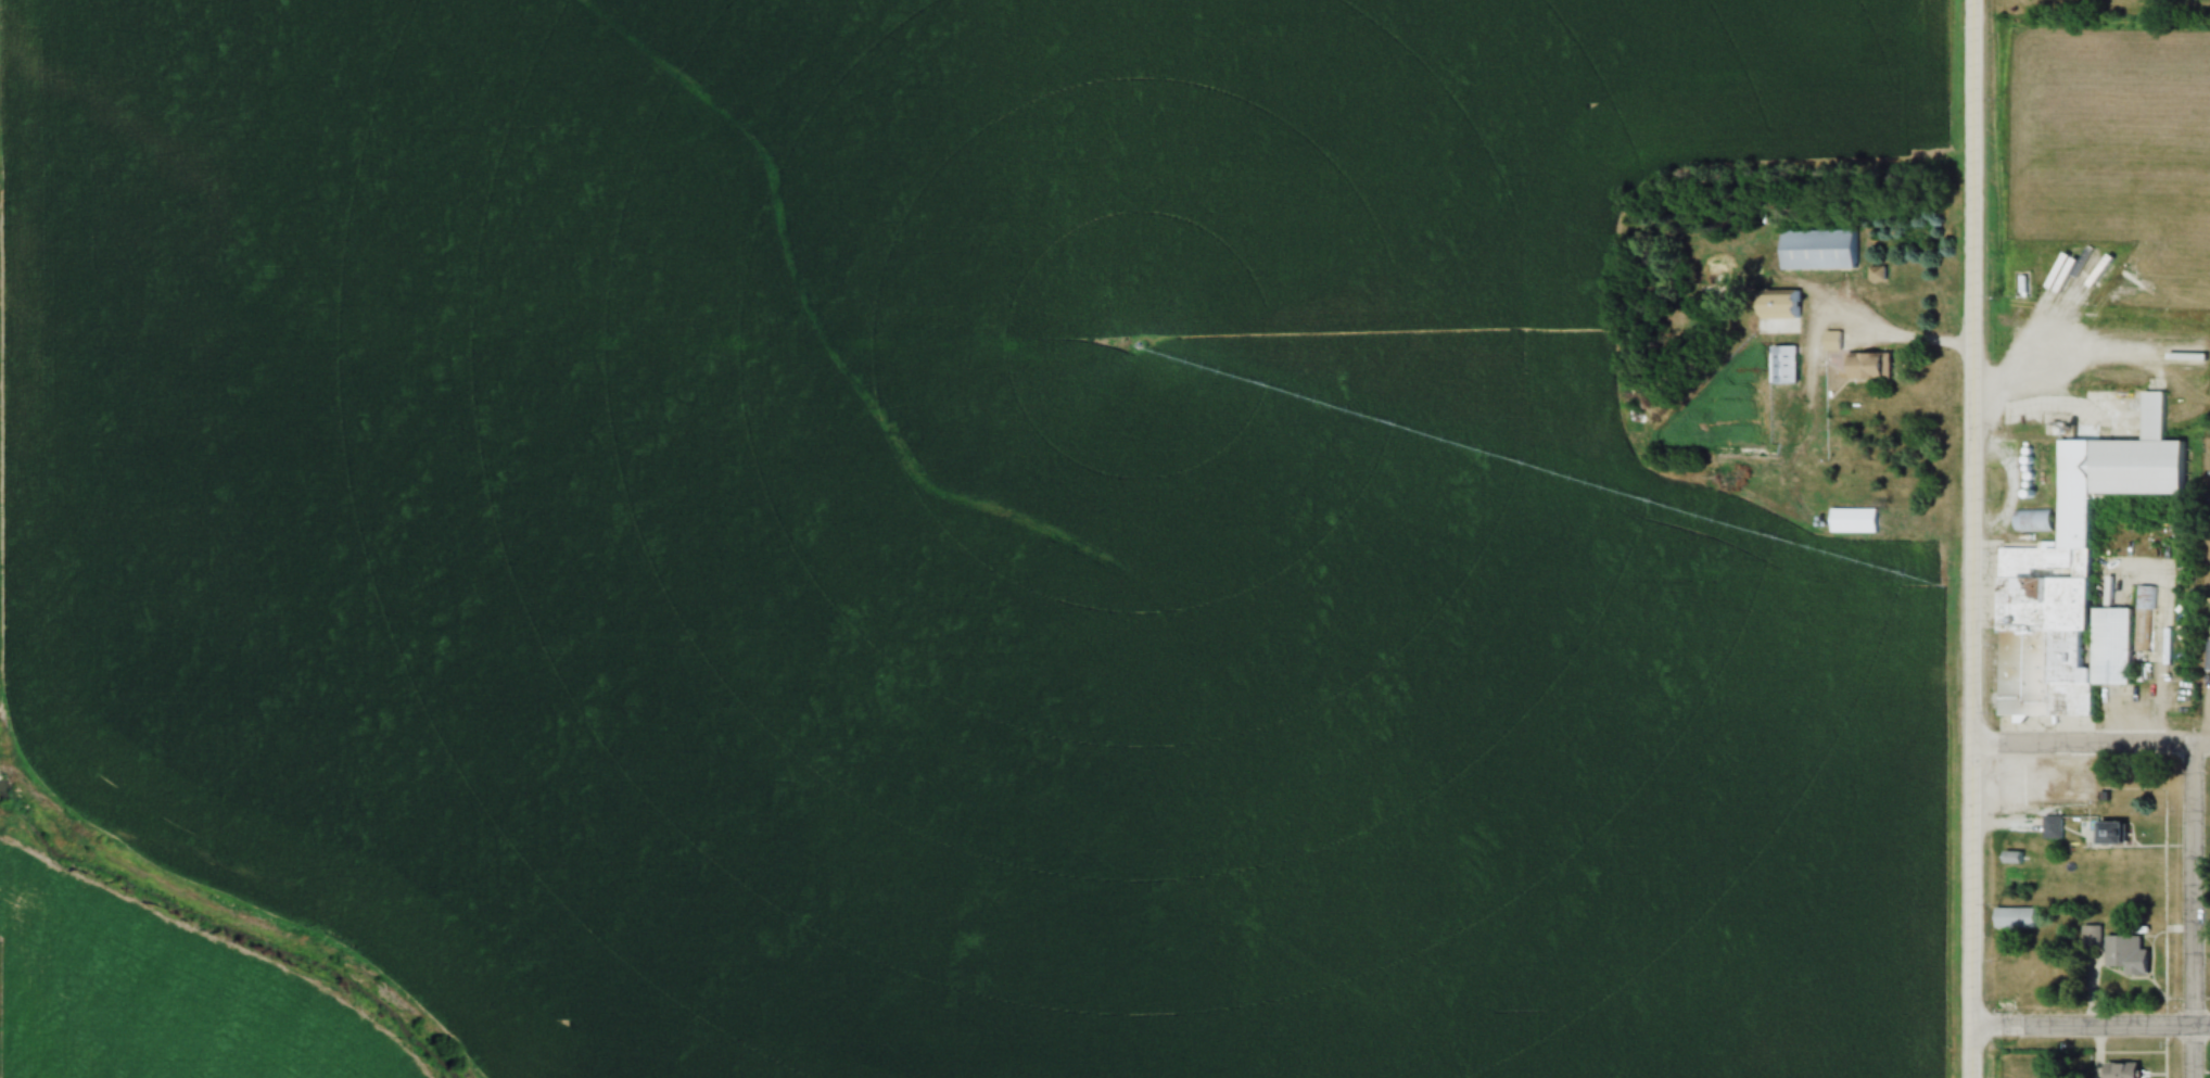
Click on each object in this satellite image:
building: (1827, 249)
building: (1790, 305)
road: (1885, 337)
building: (1837, 340)
building: (1789, 364)
building: (1875, 365)
building: (1858, 519)
building: (2037, 519)
road: (1971, 538)
building: (1836, 571)
building: (2084, 578)
road: (2091, 740)
building: (2056, 826)
building: (2119, 833)
building: (2016, 855)
road: (2190, 909)
building: (2019, 916)
building: (2095, 935)
building: (2134, 951)
road: (2090, 1024)
building: (2130, 1069)

